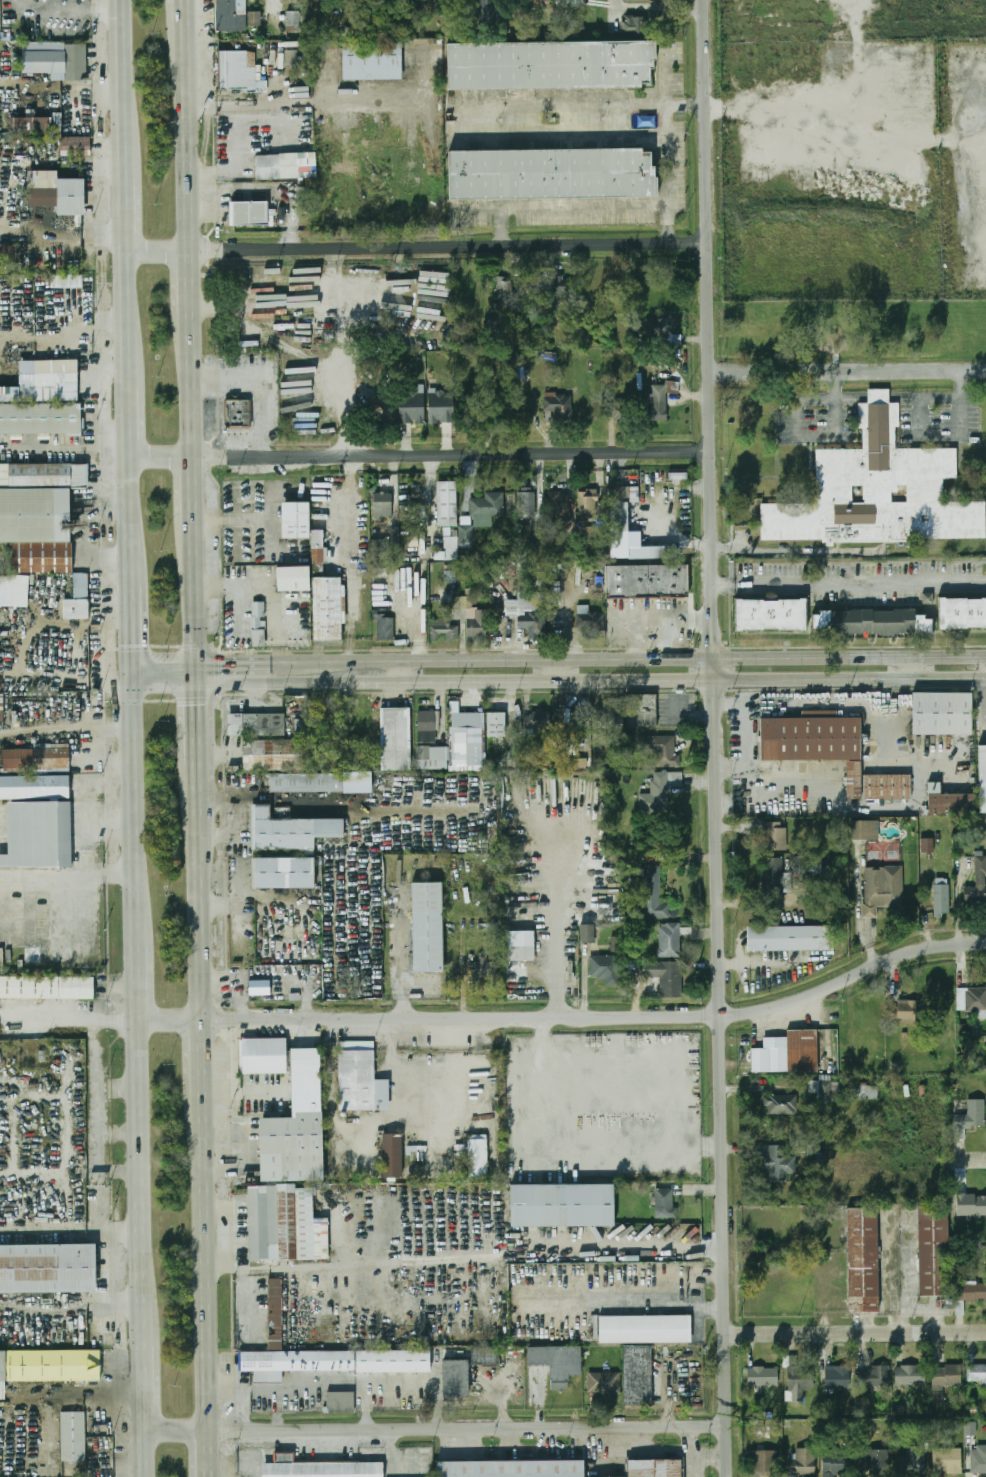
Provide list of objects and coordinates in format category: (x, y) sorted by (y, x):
building: (643, 0)
building: (430, 1)
road: (185, 2)
road: (273, 9)
building: (488, 11)
building: (230, 15)
building: (254, 20)
building: (293, 21)
building: (634, 24)
building: (290, 57)
building: (55, 60)
building: (371, 61)
building: (549, 66)
building: (235, 71)
road: (663, 75)
road: (126, 91)
road: (586, 105)
road: (460, 120)
building: (57, 124)
building: (31, 127)
road: (189, 128)
road: (564, 133)
building: (74, 146)
road: (846, 157)
building: (284, 166)
road: (667, 173)
building: (550, 175)
building: (55, 192)
road: (561, 201)
building: (248, 214)
road: (130, 217)
road: (81, 240)
road: (419, 247)
building: (9, 254)
building: (66, 281)
road: (194, 283)
building: (503, 291)
building: (561, 291)
road: (132, 321)
building: (667, 333)
road: (848, 372)
road: (261, 384)
road: (196, 386)
road: (250, 392)
building: (46, 402)
building: (411, 404)
building: (558, 406)
building: (439, 407)
building: (613, 408)
building: (658, 408)
building: (503, 409)
building: (235, 412)
road: (134, 423)
road: (810, 437)
road: (938, 439)
road: (241, 442)
road: (422, 455)
building: (877, 485)
road: (429, 489)
road: (198, 491)
building: (587, 503)
building: (382, 504)
building: (447, 504)
building: (487, 505)
building: (526, 506)
building: (558, 507)
building: (619, 509)
building: (38, 514)
road: (135, 520)
building: (294, 520)
building: (465, 533)
building: (387, 544)
building: (318, 547)
building: (450, 549)
building: (563, 549)
building: (652, 552)
road: (792, 552)
building: (292, 579)
building: (359, 579)
building: (649, 581)
road: (860, 581)
road: (723, 583)
building: (13, 591)
road: (199, 598)
building: (77, 599)
building: (257, 609)
building: (327, 609)
building: (963, 609)
building: (772, 613)
building: (532, 615)
parking lot: (650, 620)
building: (874, 622)
building: (590, 623)
building: (474, 624)
road: (135, 625)
building: (385, 629)
building: (445, 632)
building: (257, 638)
building: (7, 644)
traffic signals: (136, 644)
road: (653, 658)
road: (288, 661)
road: (913, 668)
road: (168, 670)
traffic signals: (223, 671)
road: (230, 671)
road: (398, 671)
road: (556, 671)
road: (653, 680)
road: (288, 682)
traffic signals: (202, 705)
building: (1, 707)
building: (610, 711)
building: (642, 711)
building: (944, 715)
road: (202, 717)
building: (536, 720)
building: (256, 725)
building: (496, 725)
building: (427, 727)
road: (716, 738)
building: (395, 739)
building: (813, 739)
building: (467, 747)
building: (661, 749)
building: (273, 756)
building: (432, 757)
building: (35, 759)
building: (983, 779)
building: (855, 780)
road: (202, 782)
road: (135, 783)
building: (307, 783)
building: (889, 787)
building: (659, 790)
building: (959, 806)
building: (37, 821)
building: (865, 830)
building: (291, 831)
building: (775, 836)
building: (927, 845)
park: (885, 853)
building: (284, 873)
road: (68, 874)
building: (773, 875)
building: (977, 884)
building: (883, 889)
building: (652, 895)
building: (942, 898)
road: (204, 911)
road: (138, 921)
road: (557, 922)
building: (427, 927)
building: (519, 928)
building: (586, 934)
building: (790, 938)
building: (671, 939)
building: (604, 967)
building: (484, 970)
building: (666, 977)
road: (242, 979)
road: (140, 982)
building: (46, 988)
building: (258, 988)
building: (976, 1000)
building: (906, 1010)
road: (80, 1014)
road: (569, 1018)
building: (788, 1053)
building: (264, 1055)
road: (206, 1058)
building: (306, 1060)
building: (360, 1077)
building: (827, 1091)
building: (863, 1091)
building: (308, 1092)
building: (781, 1105)
building: (967, 1115)
building: (291, 1147)
road: (968, 1153)
building: (392, 1155)
building: (477, 1157)
building: (778, 1162)
road: (144, 1182)
building: (665, 1204)
building: (561, 1205)
building: (970, 1205)
building: (285, 1224)
building: (932, 1251)
road: (430, 1260)
building: (862, 1260)
road: (211, 1263)
building: (46, 1268)
road: (907, 1275)
building: (971, 1291)
road: (636, 1306)
road: (930, 1309)
building: (275, 1314)
road: (904, 1321)
building: (644, 1329)
road: (855, 1335)
building: (486, 1356)
building: (331, 1362)
building: (557, 1363)
building: (49, 1366)
building: (637, 1375)
building: (977, 1375)
building: (911, 1376)
building: (763, 1377)
building: (837, 1377)
building: (875, 1378)
building: (455, 1379)
building: (945, 1379)
building: (491, 1381)
building: (605, 1383)
building: (799, 1383)
road: (148, 1388)
building: (340, 1402)
road: (438, 1430)
building: (73, 1436)
road: (694, 1452)
road: (648, 1454)
road: (712, 1454)
road: (147, 1455)
road: (210, 1455)
building: (874, 1460)
building: (763, 1461)
building: (911, 1461)
building: (947, 1461)
building: (978, 1461)
building: (803, 1463)
building: (837, 1464)
building: (655, 1468)
building: (510, 1469)
building: (323, 1470)

